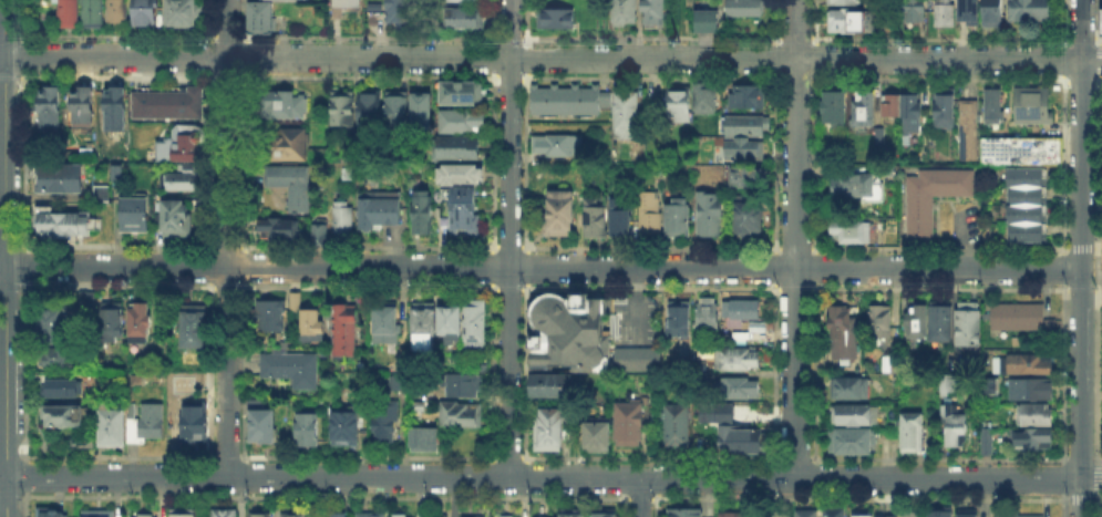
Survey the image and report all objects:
building: (466, 0)
building: (846, 2)
building: (372, 4)
building: (341, 7)
building: (746, 10)
building: (119, 11)
building: (915, 11)
building: (970, 11)
building: (1030, 11)
building: (68, 12)
building: (403, 12)
building: (626, 12)
building: (655, 12)
building: (94, 13)
building: (146, 13)
building: (184, 13)
building: (945, 13)
building: (993, 13)
building: (257, 15)
building: (466, 20)
building: (1100, 20)
road: (22, 21)
building: (556, 21)
building: (709, 22)
building: (847, 22)
road: (1096, 22)
road: (1065, 23)
road: (115, 35)
road: (226, 35)
road: (367, 35)
road: (507, 37)
road: (648, 37)
road: (1096, 37)
road: (793, 38)
road: (1080, 38)
road: (8, 39)
road: (937, 39)
road: (22, 56)
road: (2, 59)
road: (553, 60)
road: (1100, 60)
road: (1064, 61)
road: (115, 75)
road: (227, 75)
road: (367, 75)
road: (794, 75)
road: (7, 76)
road: (507, 76)
road: (649, 76)
road: (937, 76)
road: (1096, 77)
road: (1079, 79)
building: (462, 93)
building: (706, 100)
building: (746, 100)
building: (165, 101)
building: (565, 103)
building: (47, 105)
building: (679, 105)
building: (81, 106)
building: (286, 106)
building: (113, 107)
building: (889, 107)
building: (910, 107)
building: (995, 107)
building: (1034, 107)
building: (835, 108)
building: (343, 110)
building: (865, 111)
building: (944, 111)
building: (384, 112)
building: (423, 112)
building: (627, 114)
building: (464, 122)
building: (742, 124)
building: (970, 127)
road: (4, 134)
building: (880, 139)
building: (285, 143)
building: (187, 145)
building: (557, 146)
building: (740, 147)
building: (459, 148)
building: (1023, 153)
park: (1099, 158)
road: (22, 161)
road: (1063, 164)
building: (461, 175)
building: (58, 176)
building: (186, 178)
building: (744, 182)
building: (292, 187)
building: (858, 189)
building: (100, 192)
building: (933, 200)
building: (377, 208)
building: (1028, 208)
building: (420, 213)
building: (464, 213)
building: (560, 213)
building: (136, 216)
building: (746, 216)
building: (650, 217)
building: (711, 217)
building: (340, 218)
building: (622, 218)
building: (680, 218)
building: (597, 220)
building: (178, 221)
building: (64, 226)
building: (274, 227)
building: (317, 231)
building: (851, 234)
road: (509, 237)
road: (228, 238)
road: (795, 238)
road: (116, 245)
road: (227, 245)
road: (369, 245)
road: (509, 245)
road: (650, 246)
road: (1081, 246)
road: (1094, 246)
road: (8, 247)
road: (795, 247)
road: (939, 247)
road: (1081, 258)
road: (22, 265)
road: (1063, 268)
road: (1095, 269)
road: (539, 270)
road: (115, 287)
road: (228, 287)
road: (7, 288)
road: (369, 288)
road: (650, 288)
road: (795, 288)
road: (938, 288)
road: (509, 289)
road: (1081, 289)
road: (1094, 289)
road: (1091, 292)
building: (86, 299)
building: (292, 300)
building: (743, 311)
building: (272, 317)
building: (709, 318)
building: (1022, 319)
building: (425, 321)
building: (915, 321)
building: (113, 322)
building: (451, 322)
building: (679, 322)
building: (54, 323)
building: (311, 323)
building: (882, 323)
building: (140, 324)
building: (387, 324)
building: (475, 324)
building: (941, 325)
building: (969, 325)
building: (195, 327)
building: (346, 331)
building: (569, 331)
building: (844, 334)
building: (631, 358)
building: (63, 360)
building: (738, 362)
building: (894, 362)
building: (1027, 366)
road: (23, 371)
building: (291, 371)
road: (1063, 373)
building: (699, 375)
road: (6, 376)
building: (464, 386)
building: (557, 386)
building: (64, 390)
building: (740, 390)
building: (851, 391)
building: (1032, 392)
building: (711, 415)
building: (64, 416)
building: (463, 416)
building: (852, 416)
building: (1031, 417)
building: (195, 423)
building: (950, 423)
building: (130, 424)
building: (629, 425)
building: (384, 426)
building: (677, 427)
building: (264, 428)
building: (552, 430)
building: (346, 431)
building: (309, 432)
building: (914, 435)
building: (598, 436)
building: (1030, 441)
building: (423, 442)
building: (741, 442)
building: (852, 443)
building: (987, 443)
road: (116, 454)
road: (227, 455)
road: (368, 455)
road: (509, 456)
road: (650, 456)
road: (794, 457)
road: (938, 457)
road: (1080, 457)
road: (1096, 458)
road: (9, 459)
road: (553, 476)
road: (28, 477)
road: (1062, 478)
road: (1096, 479)
road: (2, 485)
road: (325, 496)
road: (453, 496)
road: (639, 497)
road: (640, 497)
road: (857, 497)
road: (1080, 497)
road: (1098, 497)
road: (6, 500)
road: (9, 500)
road: (27, 505)
road: (1062, 505)
road: (1098, 506)
building: (296, 513)
building: (908, 513)
building: (101, 514)
building: (184, 514)
building: (225, 514)
building: (257, 514)
building: (686, 514)
building: (835, 514)
building: (52, 515)
building: (141, 515)
building: (396, 515)
building: (573, 515)
building: (732, 515)
building: (807, 515)
building: (884, 515)
building: (940, 515)
building: (1019, 515)
building: (342, 516)
building: (371, 516)
building: (471, 516)
building: (607, 516)
building: (863, 516)
building: (968, 516)

